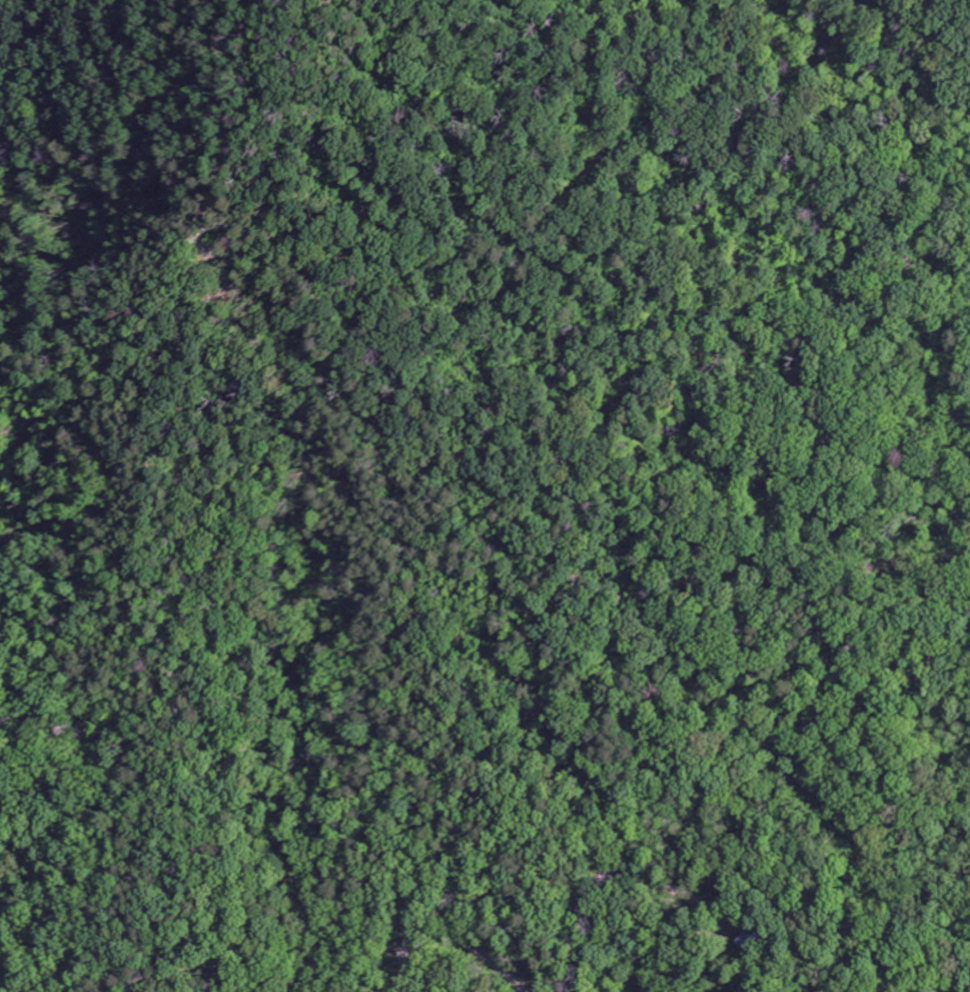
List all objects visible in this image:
road: (474, 951)

